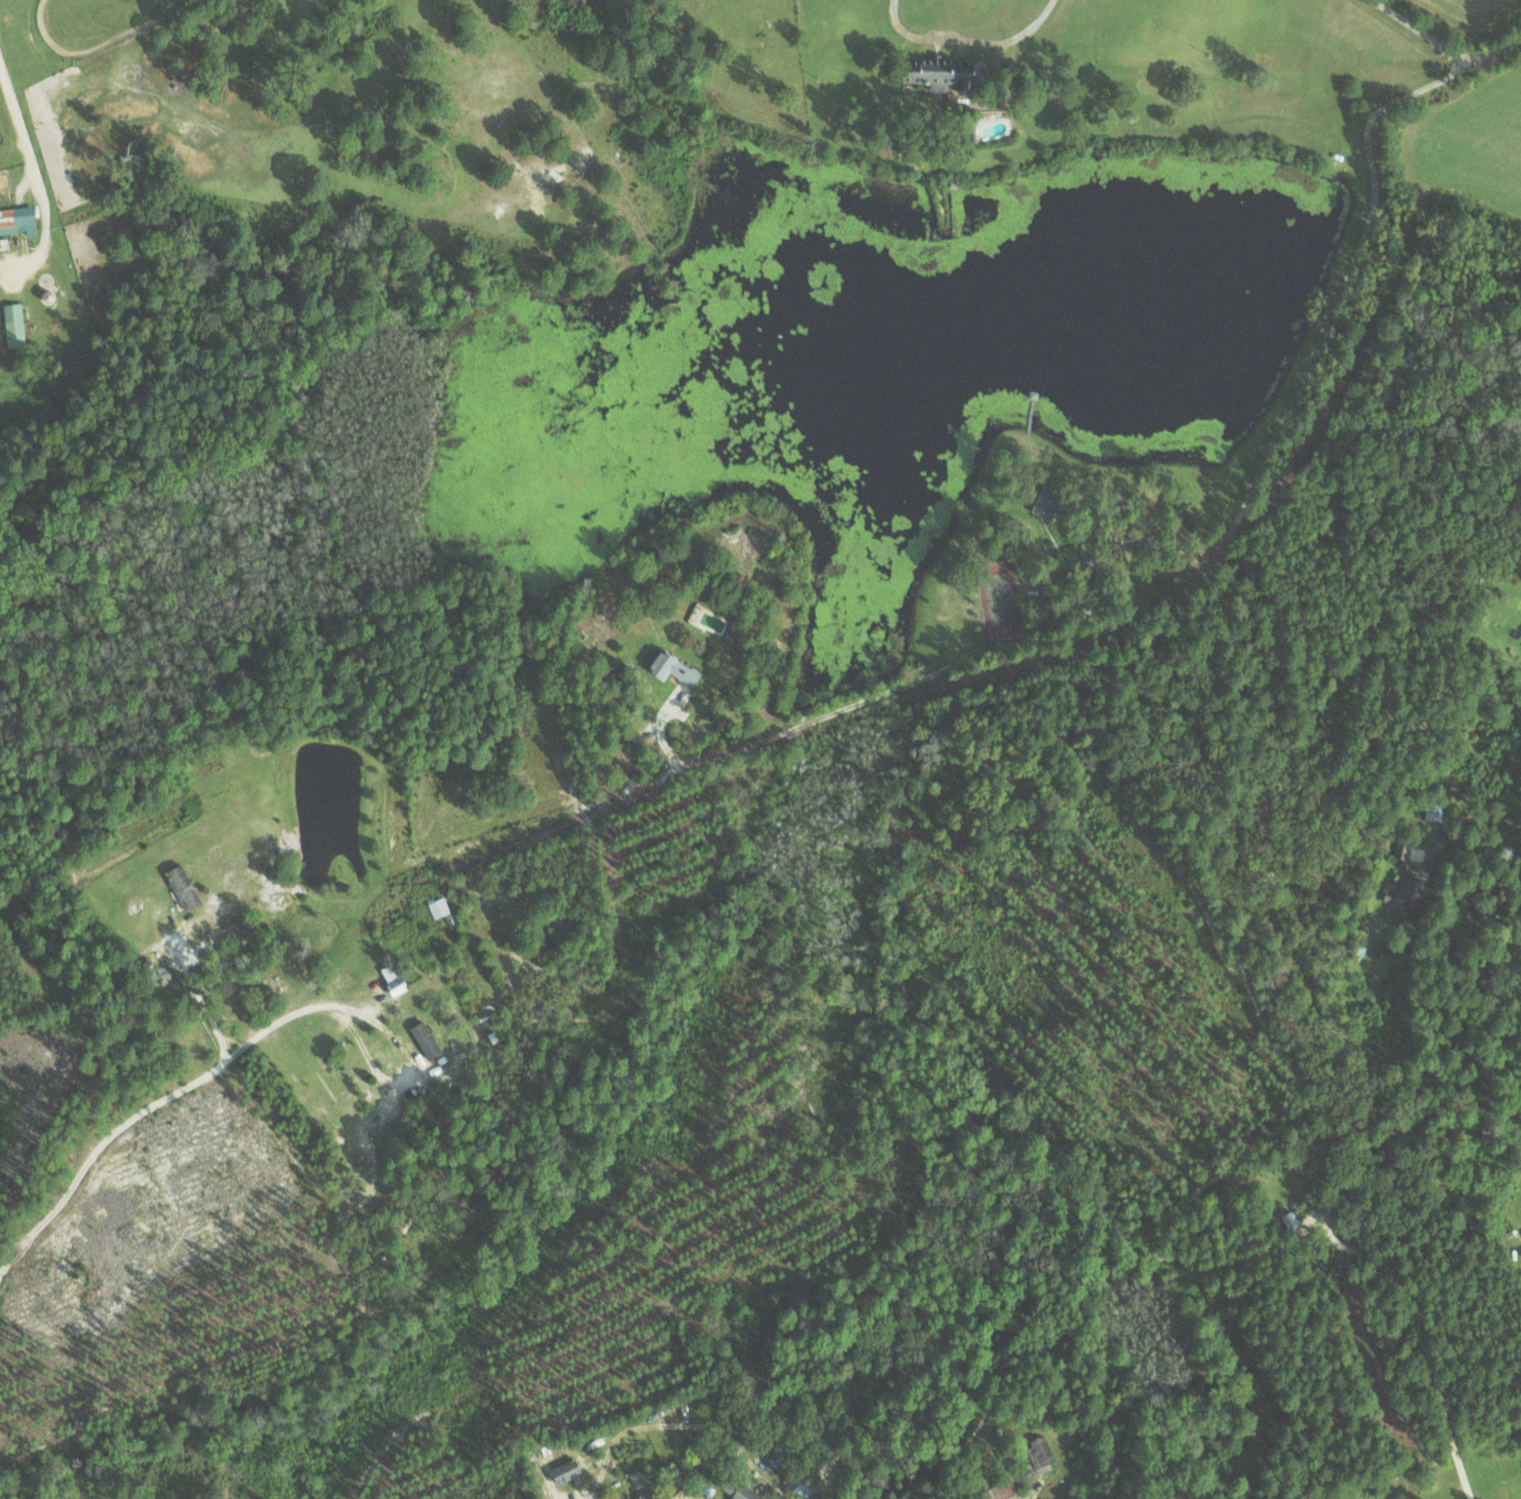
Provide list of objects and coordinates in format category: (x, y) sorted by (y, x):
building: (937, 72)
building: (17, 220)
building: (12, 323)
road: (1215, 560)
building: (671, 667)
building: (181, 886)
building: (1406, 892)
building: (437, 906)
building: (391, 980)
building: (424, 1039)
road: (1371, 1243)
road: (1000, 1388)
road: (240, 1437)
building: (1038, 1453)
building: (564, 1471)
building: (744, 1490)

